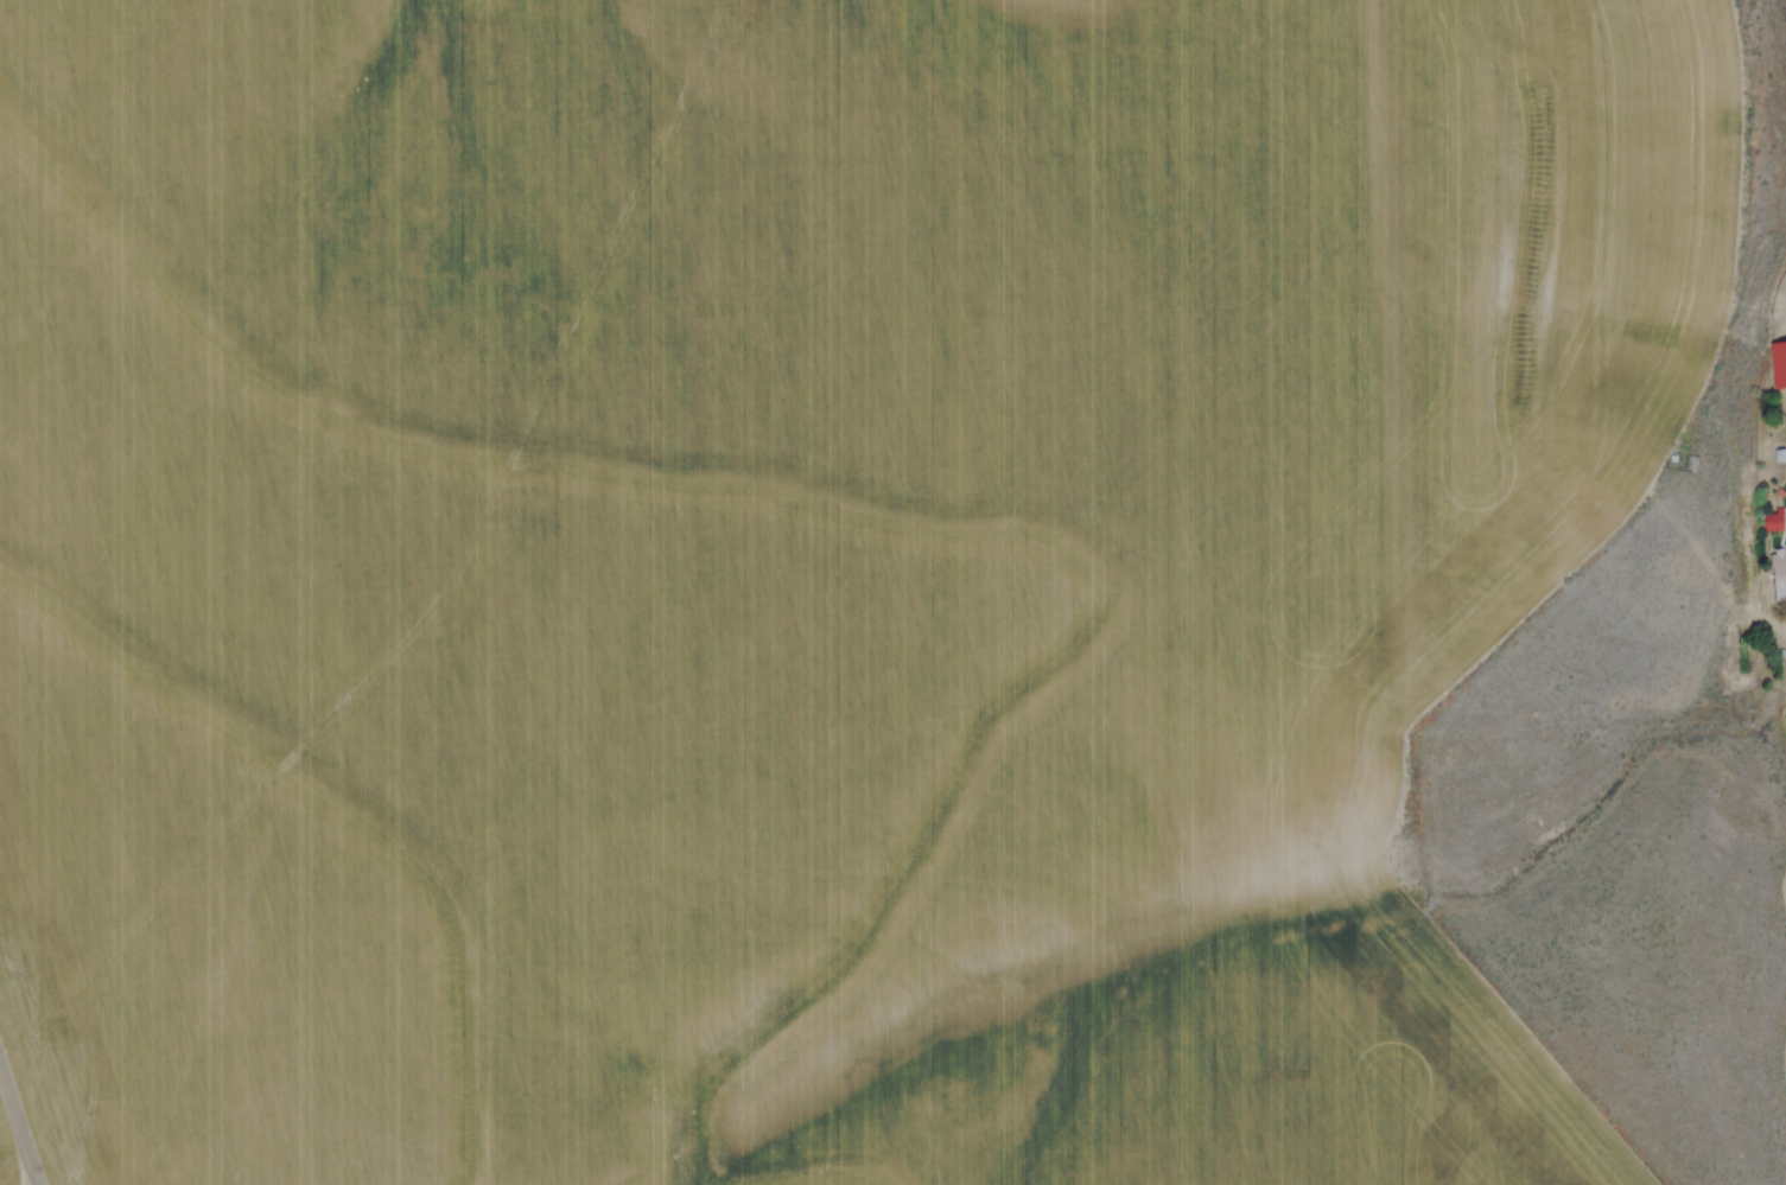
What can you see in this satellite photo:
building: (1779, 362)
road: (21, 1116)

